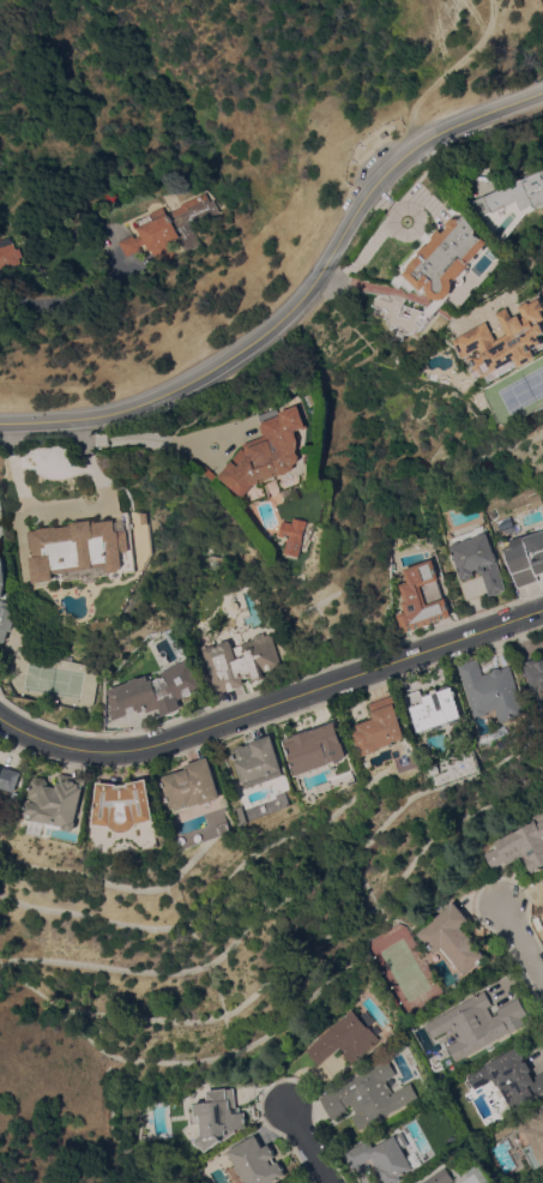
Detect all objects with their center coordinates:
building: (519, 202)
building: (171, 229)
building: (10, 254)
building: (440, 271)
road: (375, 284)
road: (46, 290)
road: (300, 302)
building: (506, 343)
building: (312, 372)
road: (150, 439)
building: (271, 452)
building: (536, 499)
road: (64, 503)
building: (300, 535)
building: (80, 547)
building: (525, 558)
building: (478, 559)
building: (423, 597)
building: (4, 603)
building: (60, 655)
building: (245, 660)
building: (215, 674)
building: (535, 674)
building: (494, 691)
building: (155, 692)
road: (271, 708)
building: (435, 709)
building: (380, 727)
building: (316, 750)
building: (259, 762)
building: (436, 769)
building: (11, 779)
building: (193, 787)
building: (59, 801)
building: (126, 805)
building: (520, 846)
building: (542, 879)
building: (452, 938)
road: (524, 941)
building: (478, 1025)
building: (346, 1038)
building: (512, 1077)
building: (369, 1095)
building: (218, 1118)
building: (526, 1133)
road: (312, 1145)
building: (386, 1158)
building: (257, 1163)
building: (440, 1177)

